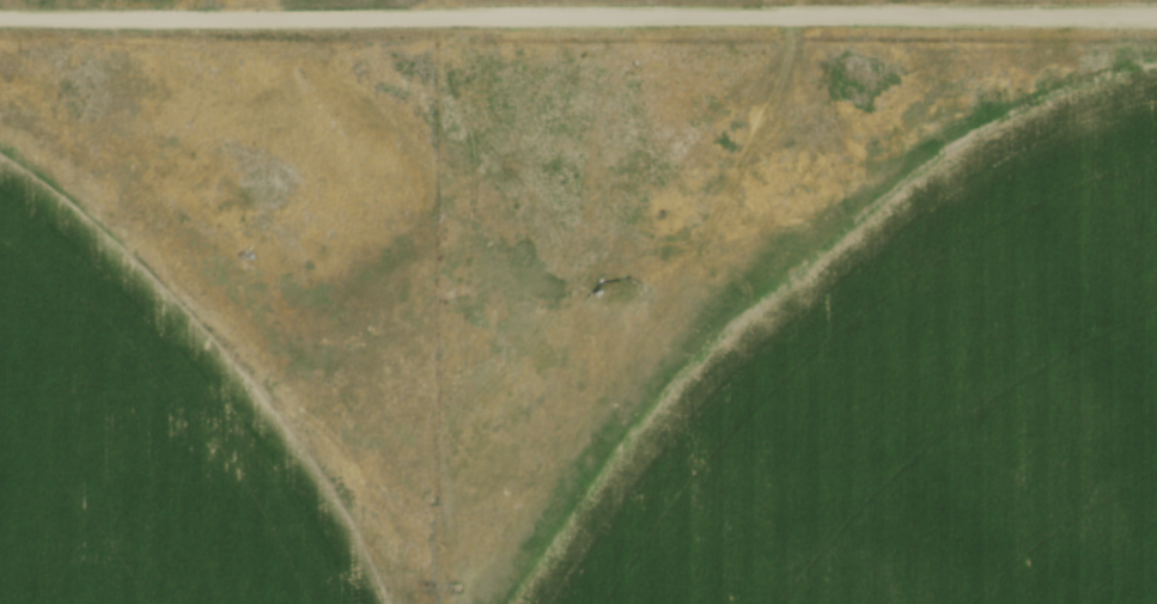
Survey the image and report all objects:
road: (578, 17)

